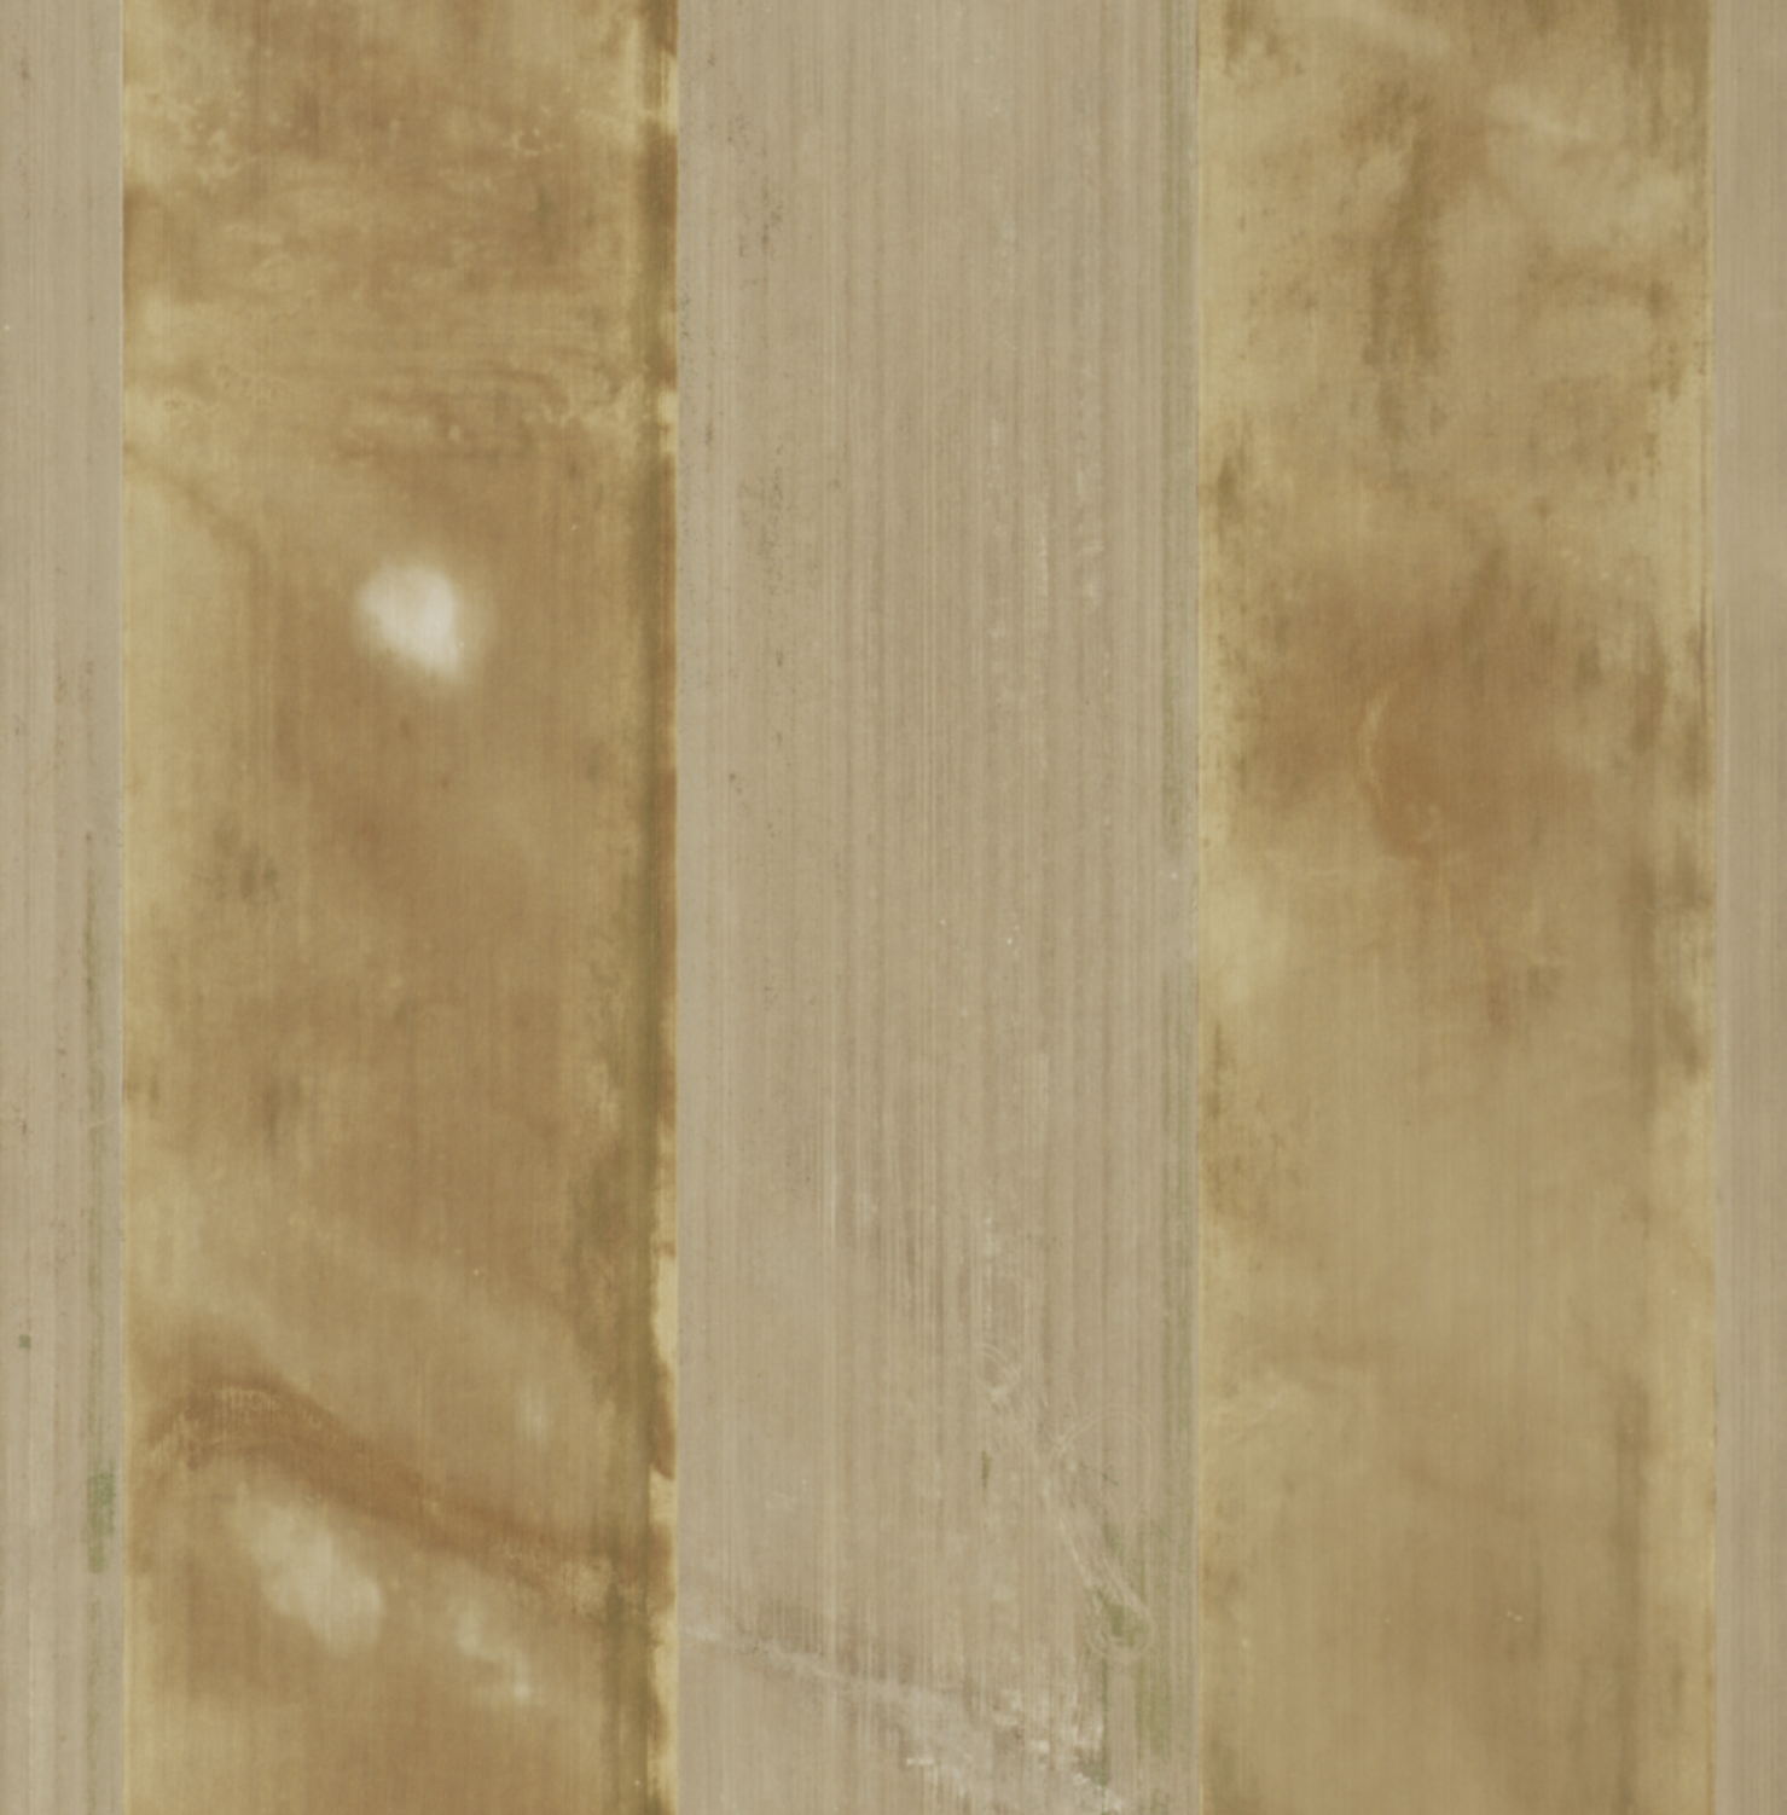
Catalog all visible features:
crop: (893, 907)

